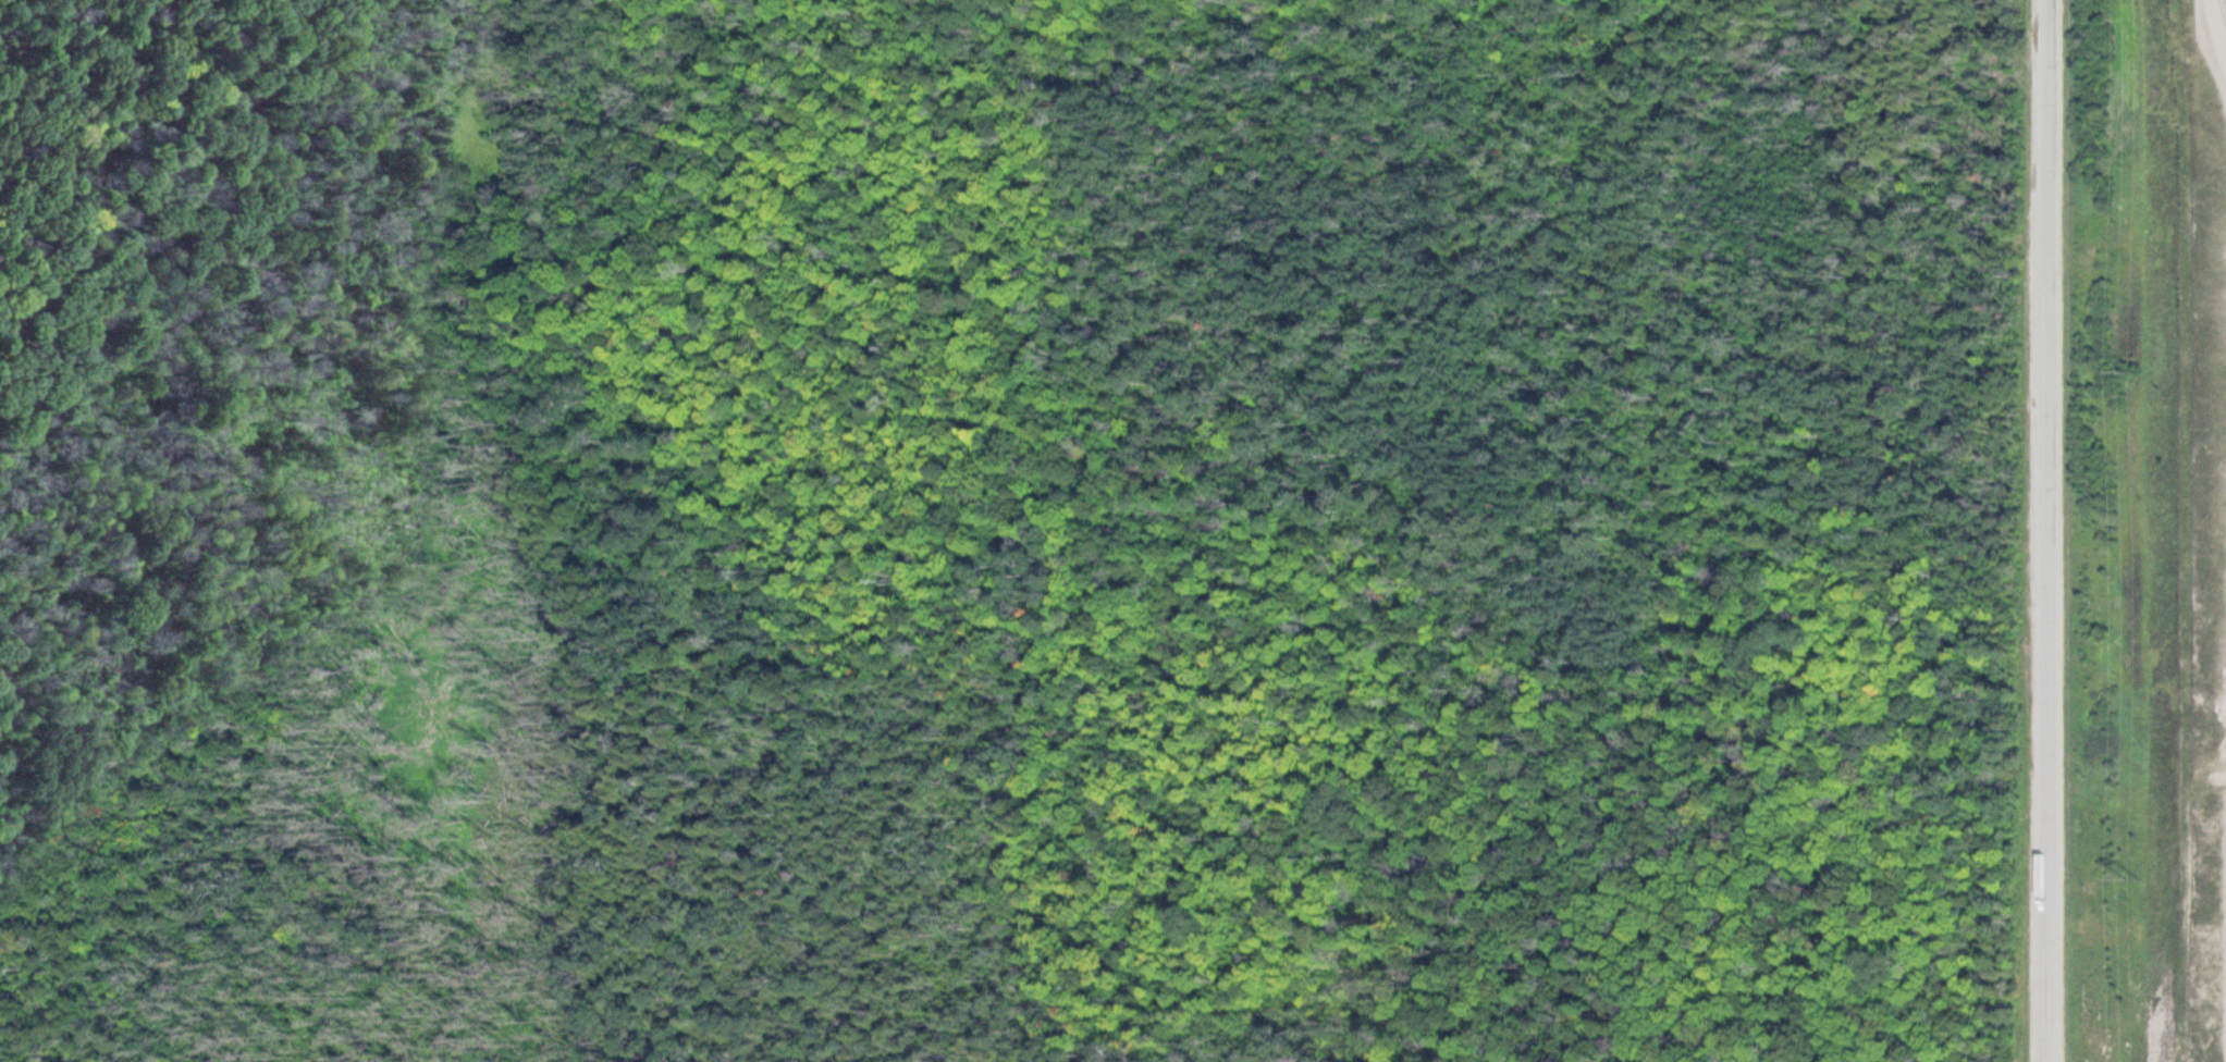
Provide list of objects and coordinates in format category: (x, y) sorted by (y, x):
road: (175, 194)
quarry: (2210, 471)
park: (1007, 520)
road: (2043, 531)

